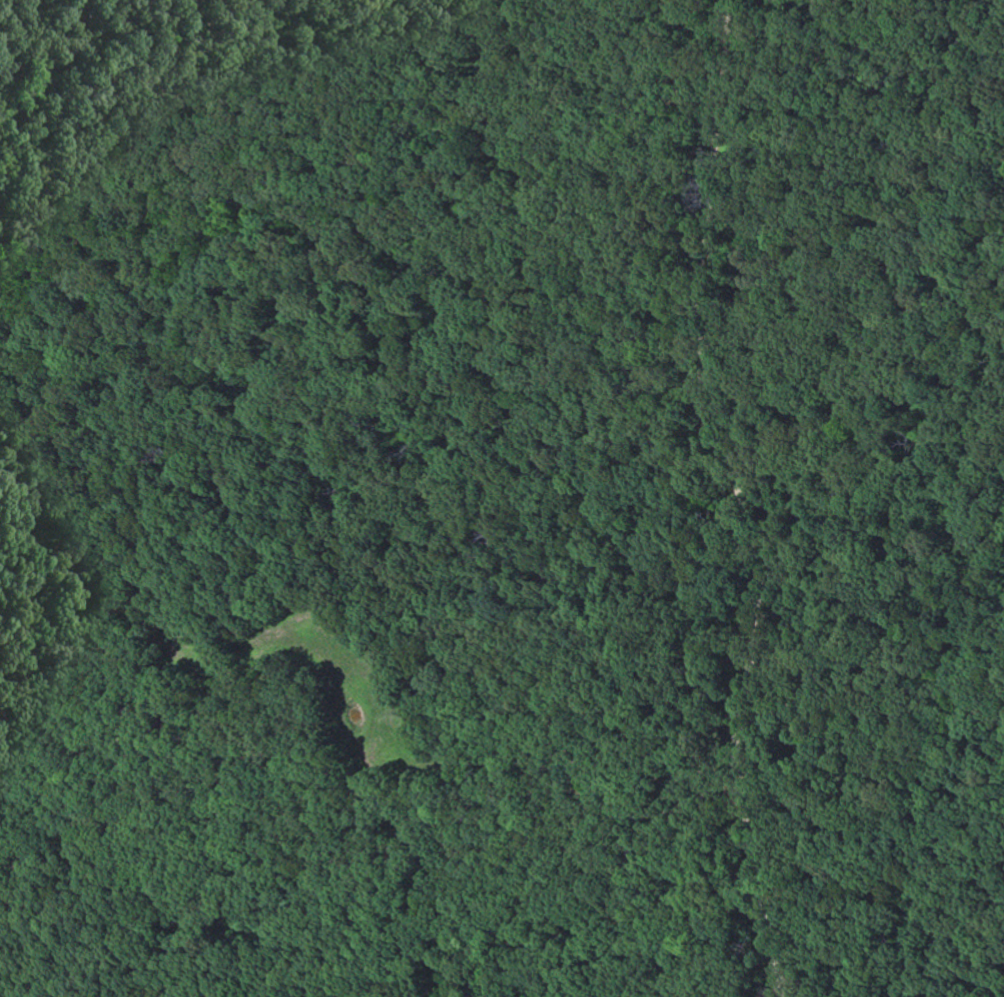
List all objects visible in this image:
road: (743, 499)

